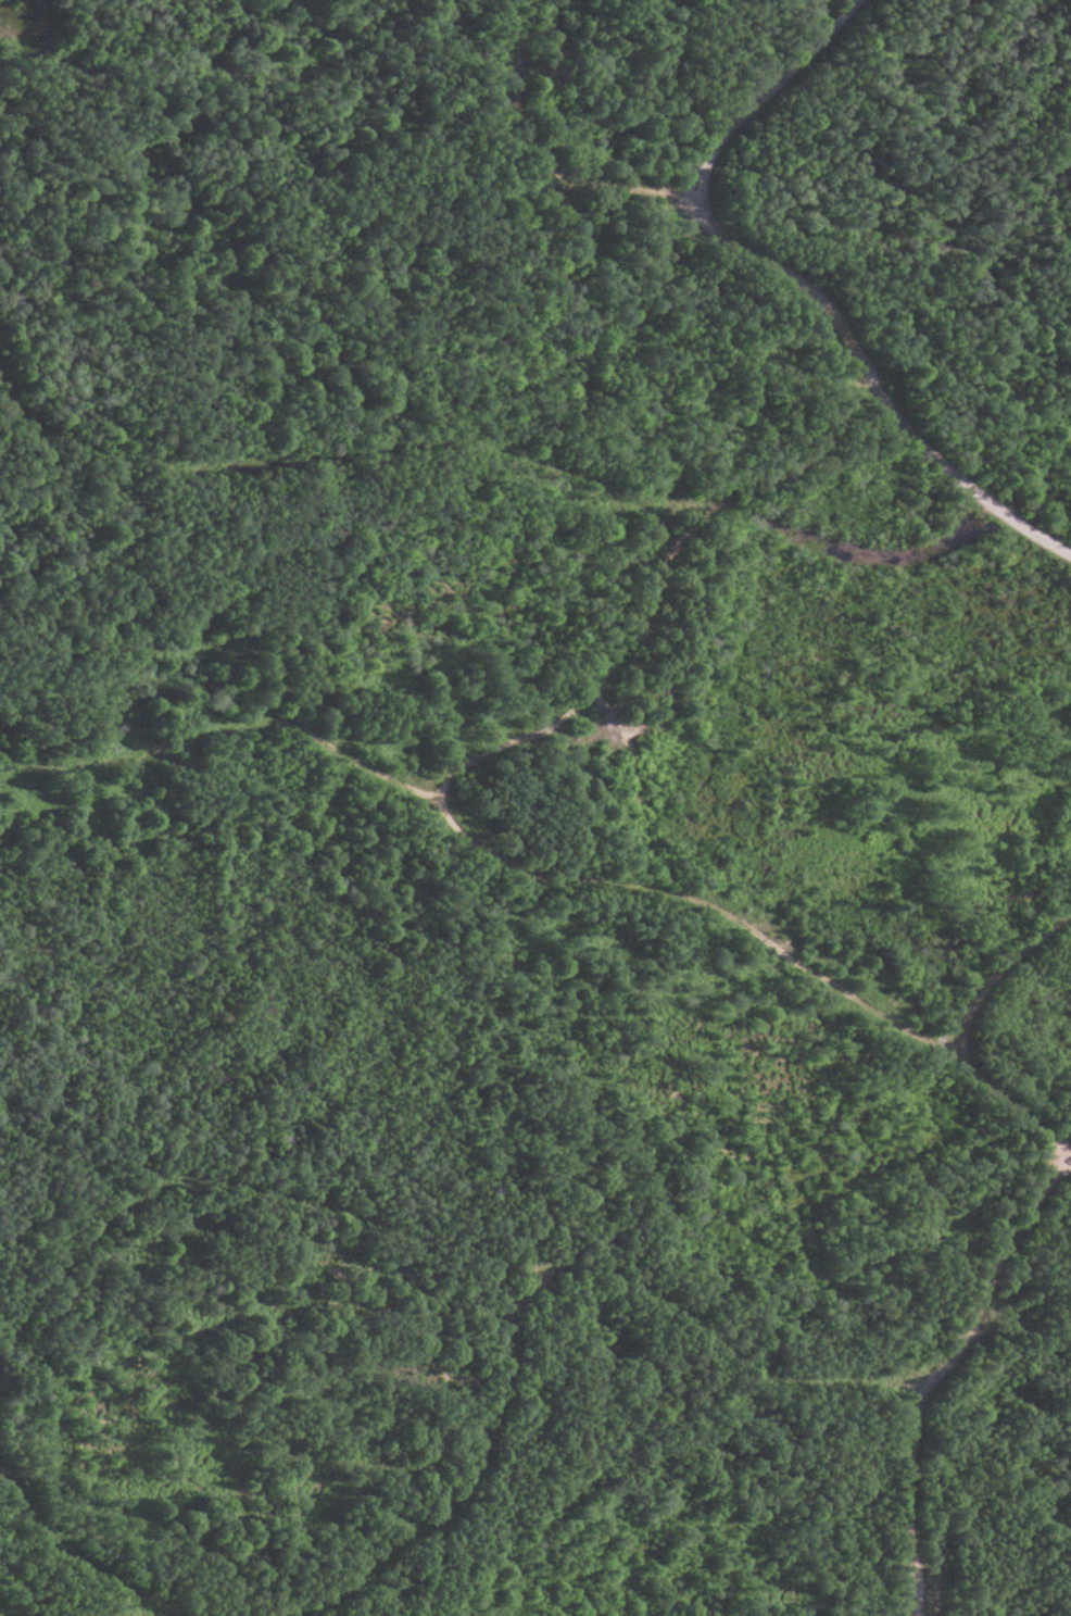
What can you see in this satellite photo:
road: (785, 272)
road: (971, 1035)
road: (931, 1362)

